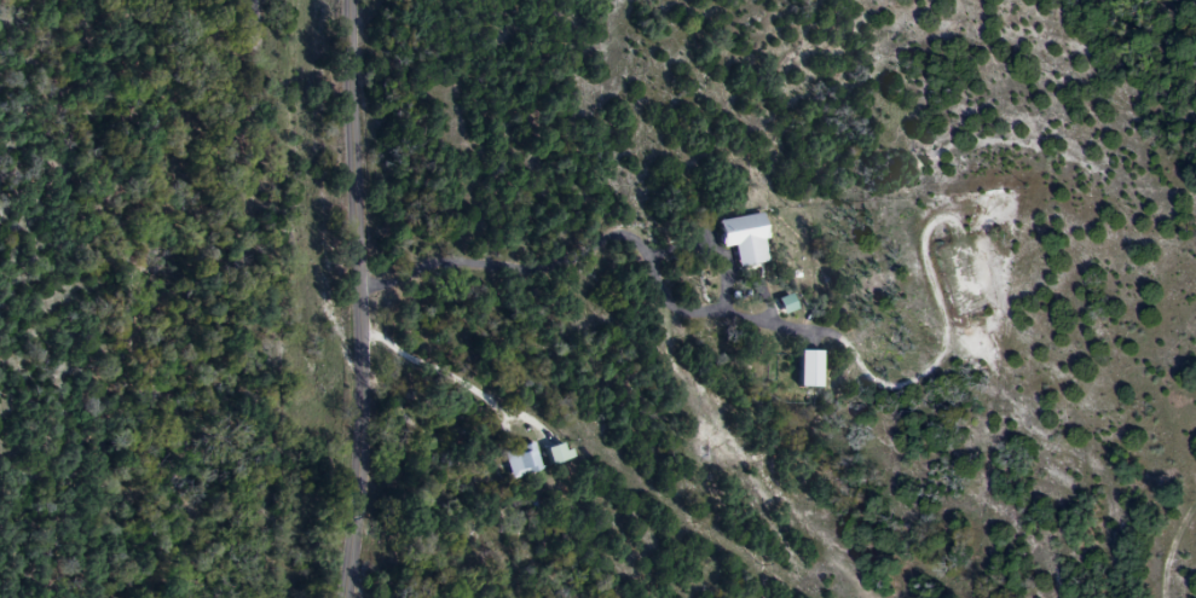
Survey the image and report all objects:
building: (743, 238)
road: (362, 298)
road: (722, 312)
road: (424, 364)
building: (805, 367)
building: (555, 452)
building: (520, 459)

